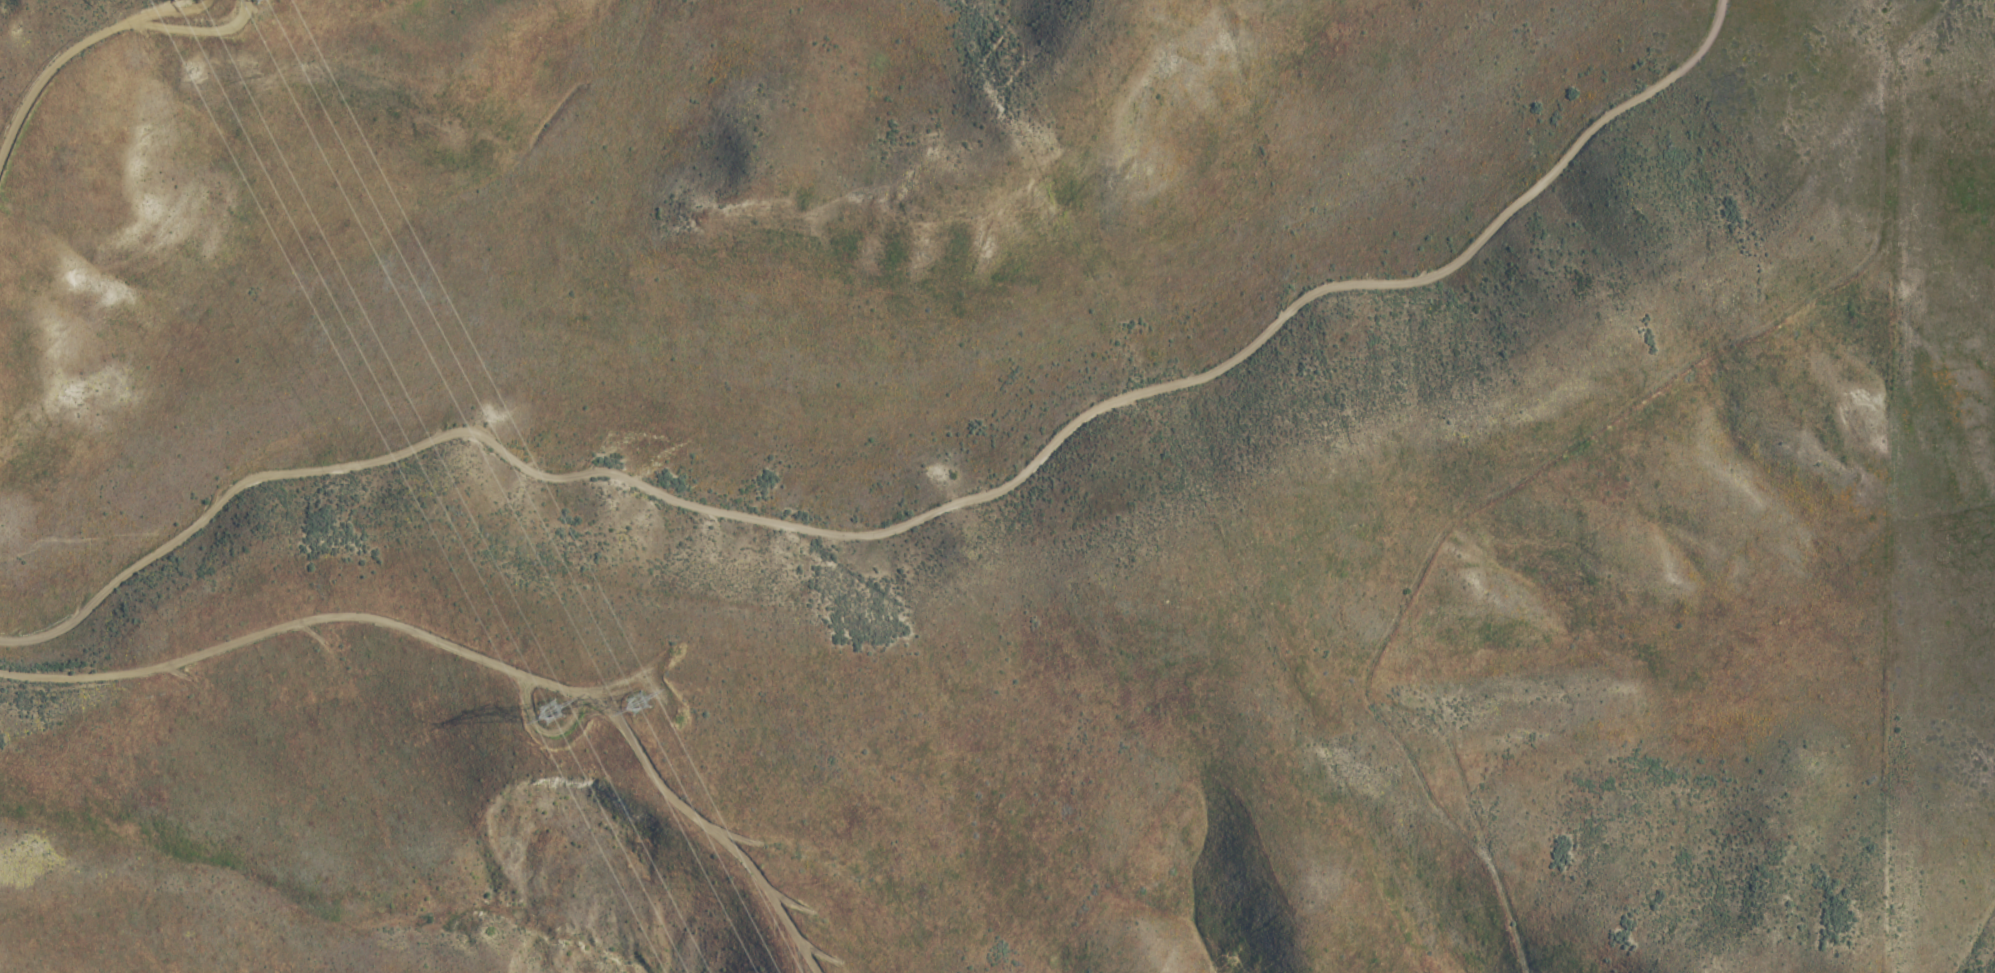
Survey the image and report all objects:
road: (97, 31)
road: (925, 529)
road: (473, 651)
power tower: (641, 715)
power tower: (551, 719)

